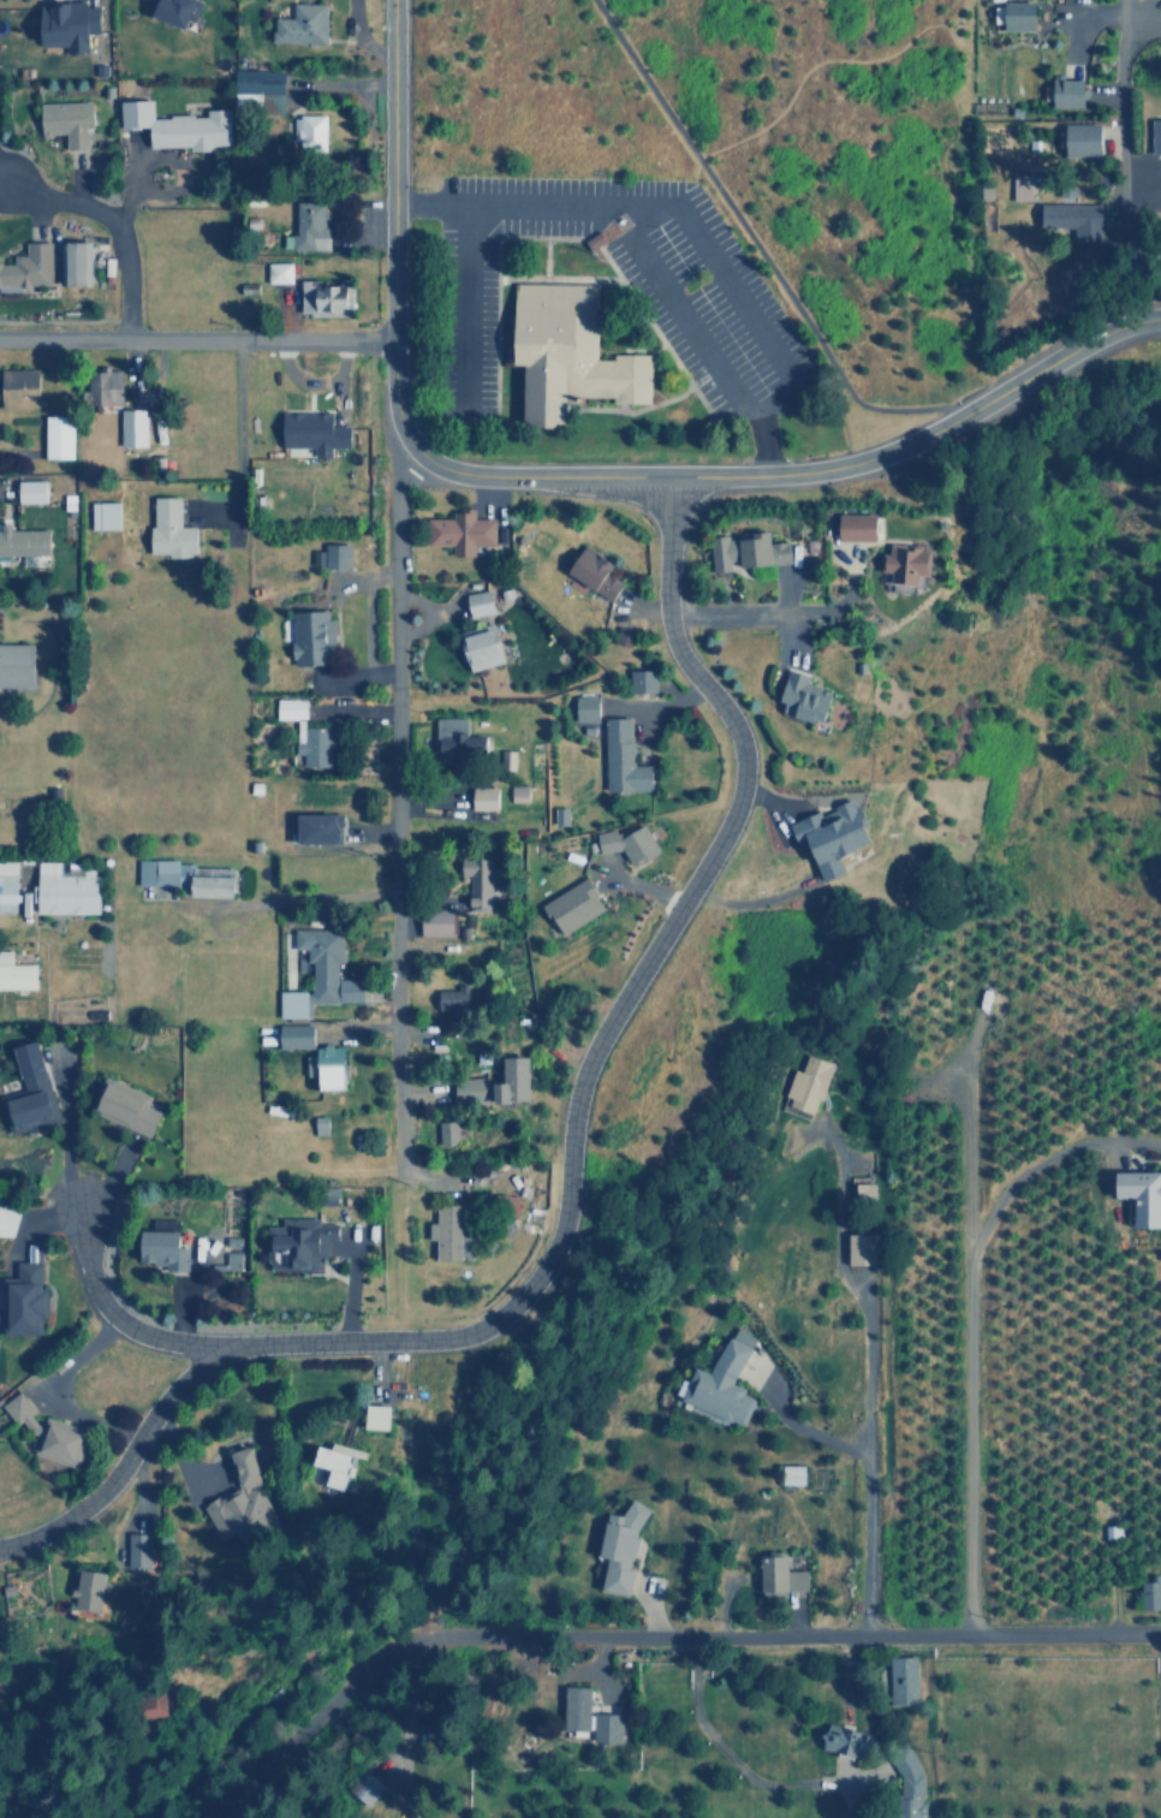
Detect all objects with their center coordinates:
building: (178, 11)
road: (1119, 141)
road: (108, 226)
road: (631, 236)
road: (756, 249)
road: (738, 302)
road: (462, 307)
road: (196, 340)
building: (566, 351)
road: (1061, 353)
road: (468, 473)
road: (395, 800)
road: (570, 1170)
road: (34, 1219)
road: (835, 1261)
building: (23, 1295)
building: (42, 1300)
road: (113, 1317)
road: (800, 1427)
road: (868, 1519)
road: (656, 1635)
road: (714, 1741)

